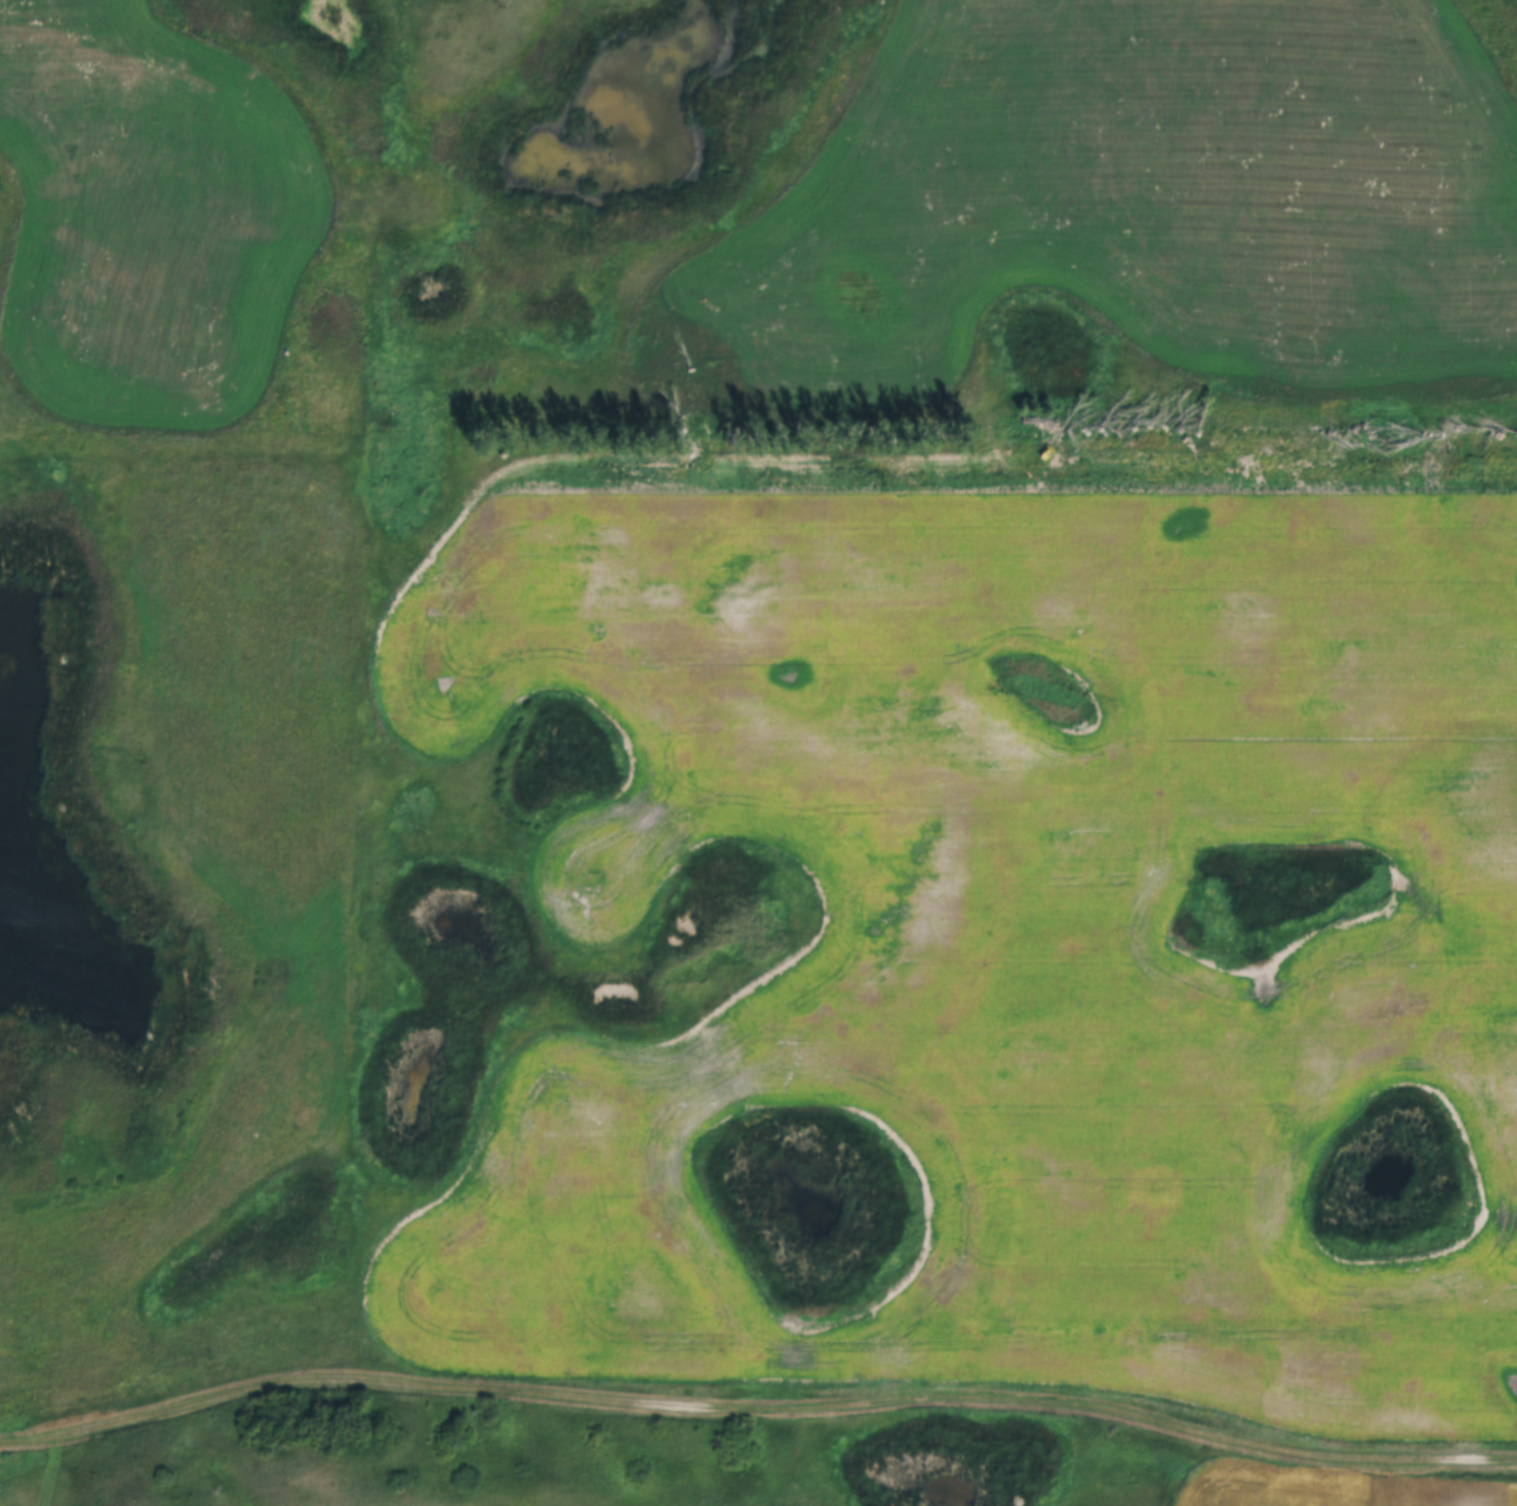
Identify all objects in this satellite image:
road: (757, 1404)

